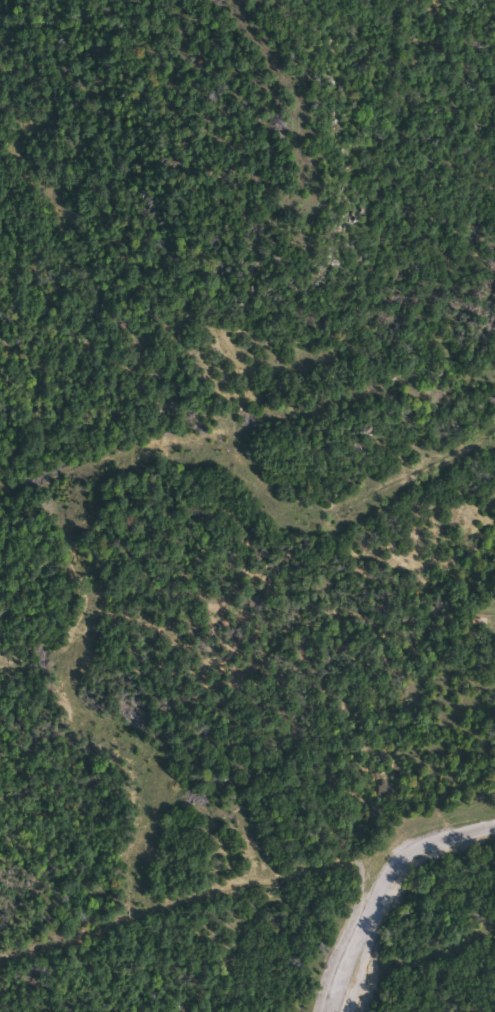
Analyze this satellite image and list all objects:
road: (378, 884)

